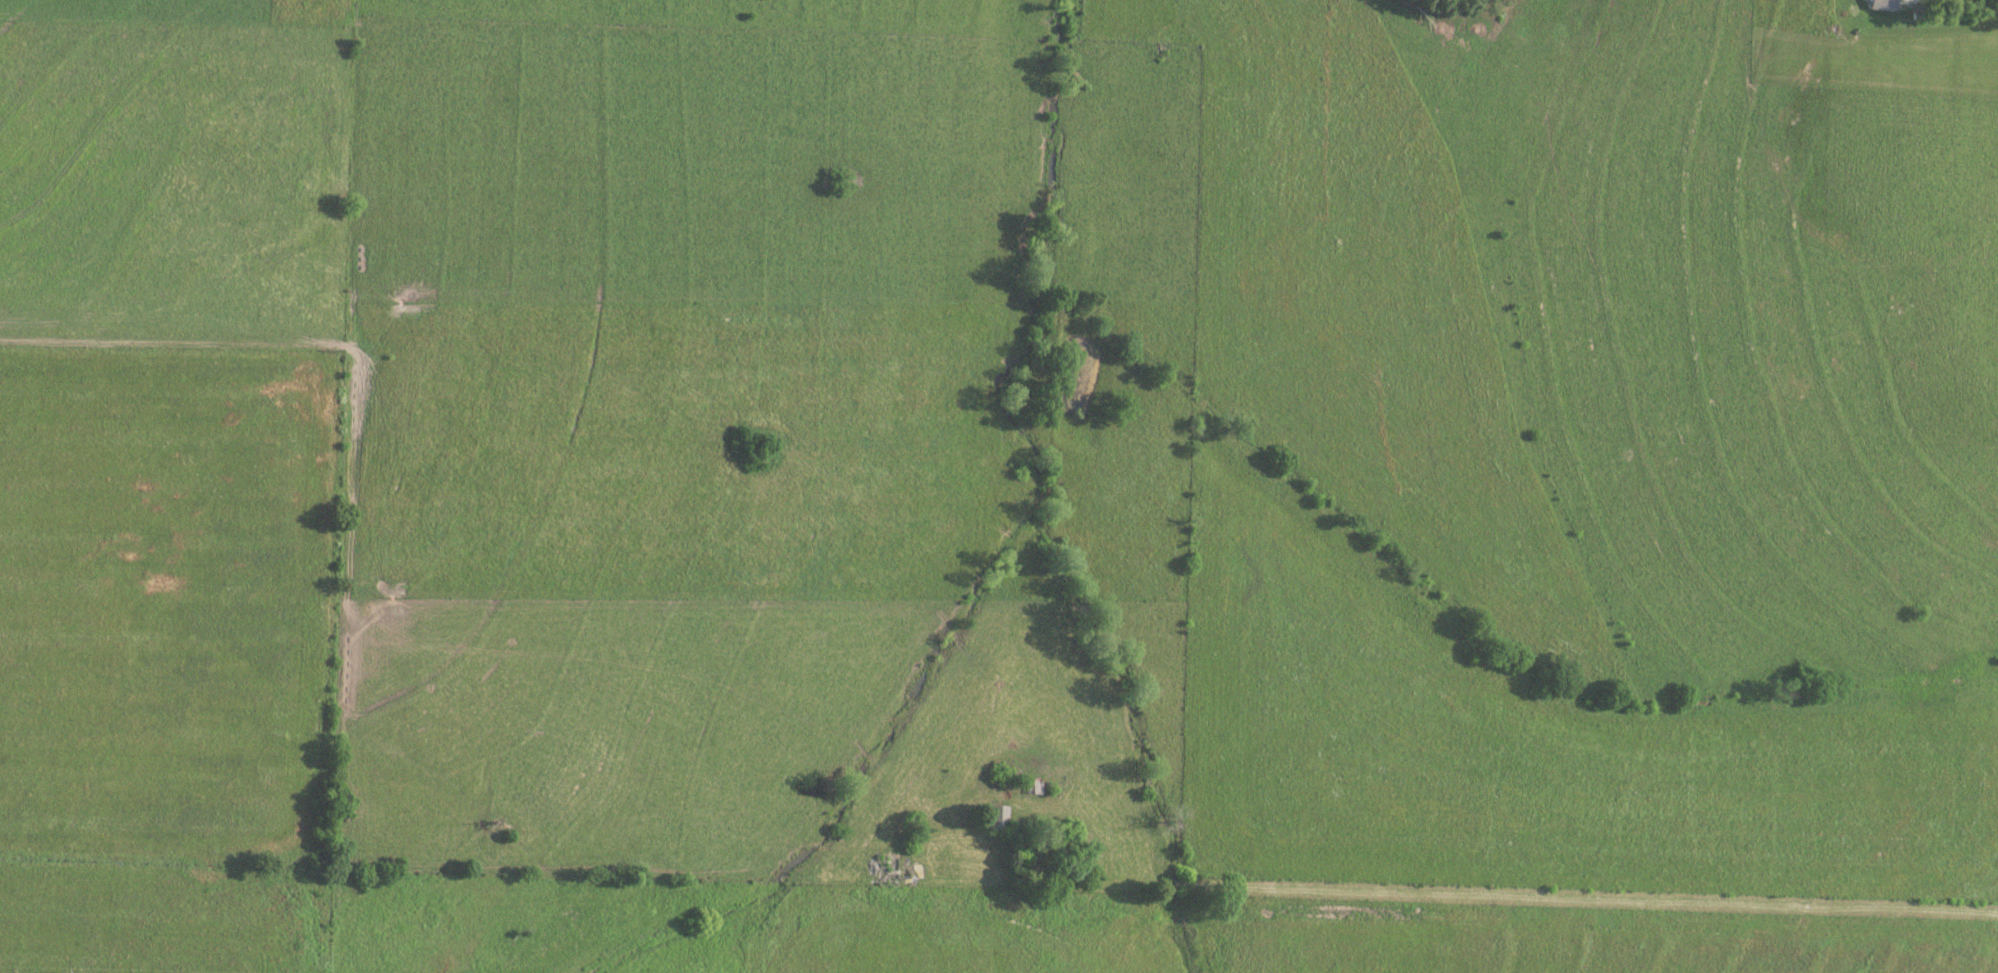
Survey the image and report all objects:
building: (1033, 785)
building: (998, 817)

